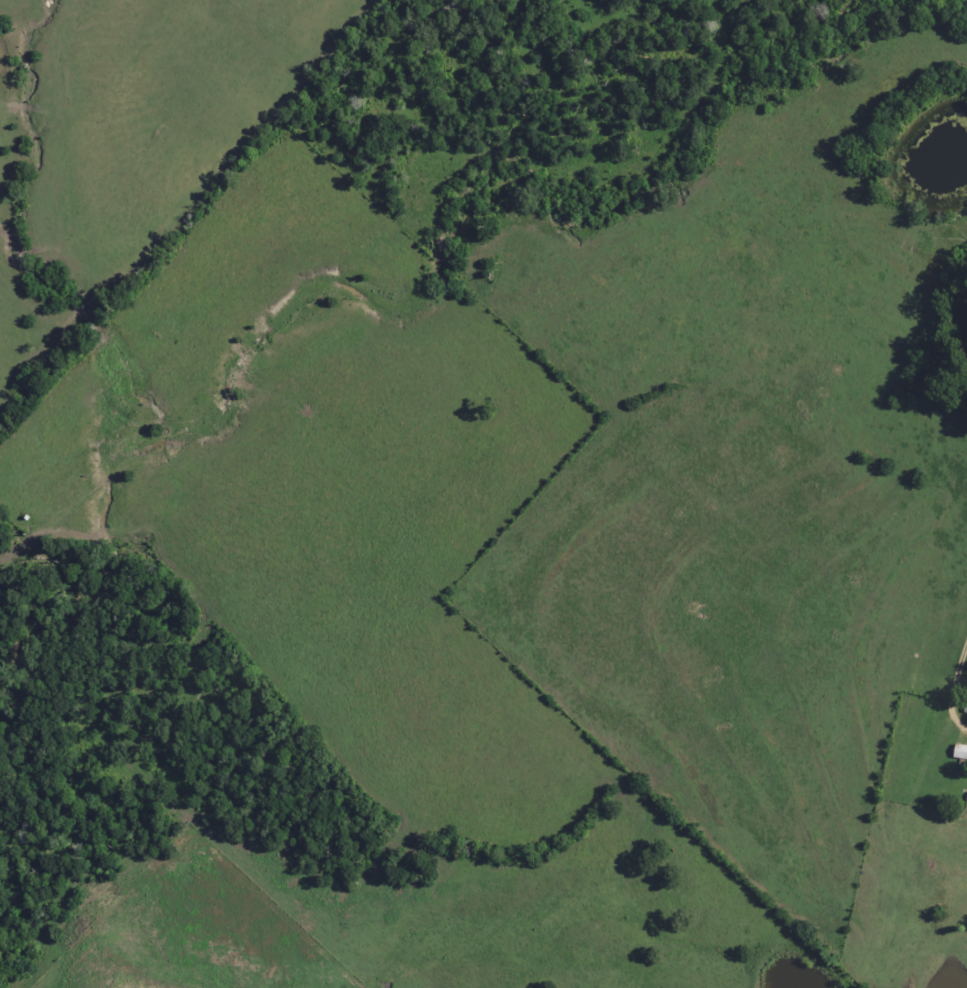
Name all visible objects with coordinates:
road: (927, 665)
building: (960, 752)

